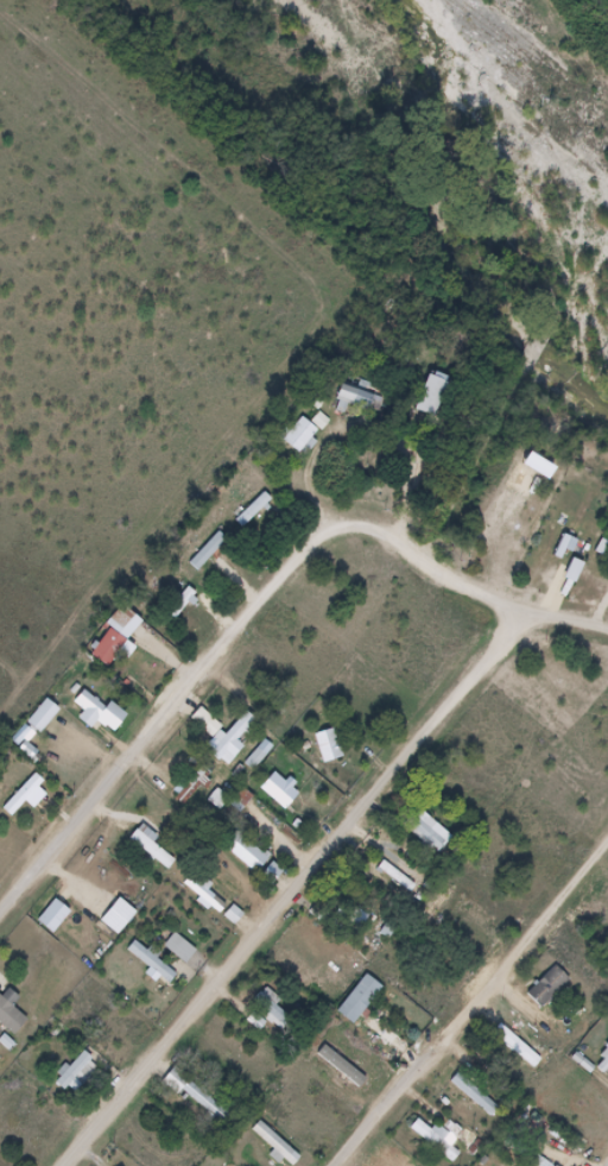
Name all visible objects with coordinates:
river: (460, 232)
building: (538, 346)
building: (356, 397)
building: (302, 435)
building: (253, 510)
building: (208, 550)
building: (182, 604)
road: (260, 605)
building: (113, 641)
building: (96, 714)
building: (330, 746)
building: (234, 748)
building: (194, 786)
building: (281, 792)
building: (26, 795)
building: (429, 832)
building: (153, 847)
building: (251, 856)
road: (299, 887)
building: (439, 903)
building: (182, 950)
building: (550, 987)
road: (476, 1007)
building: (272, 1009)
building: (11, 1013)
building: (512, 1051)
building: (230, 1069)
building: (75, 1071)
building: (475, 1096)
building: (202, 1099)
building: (436, 1142)
building: (278, 1145)

